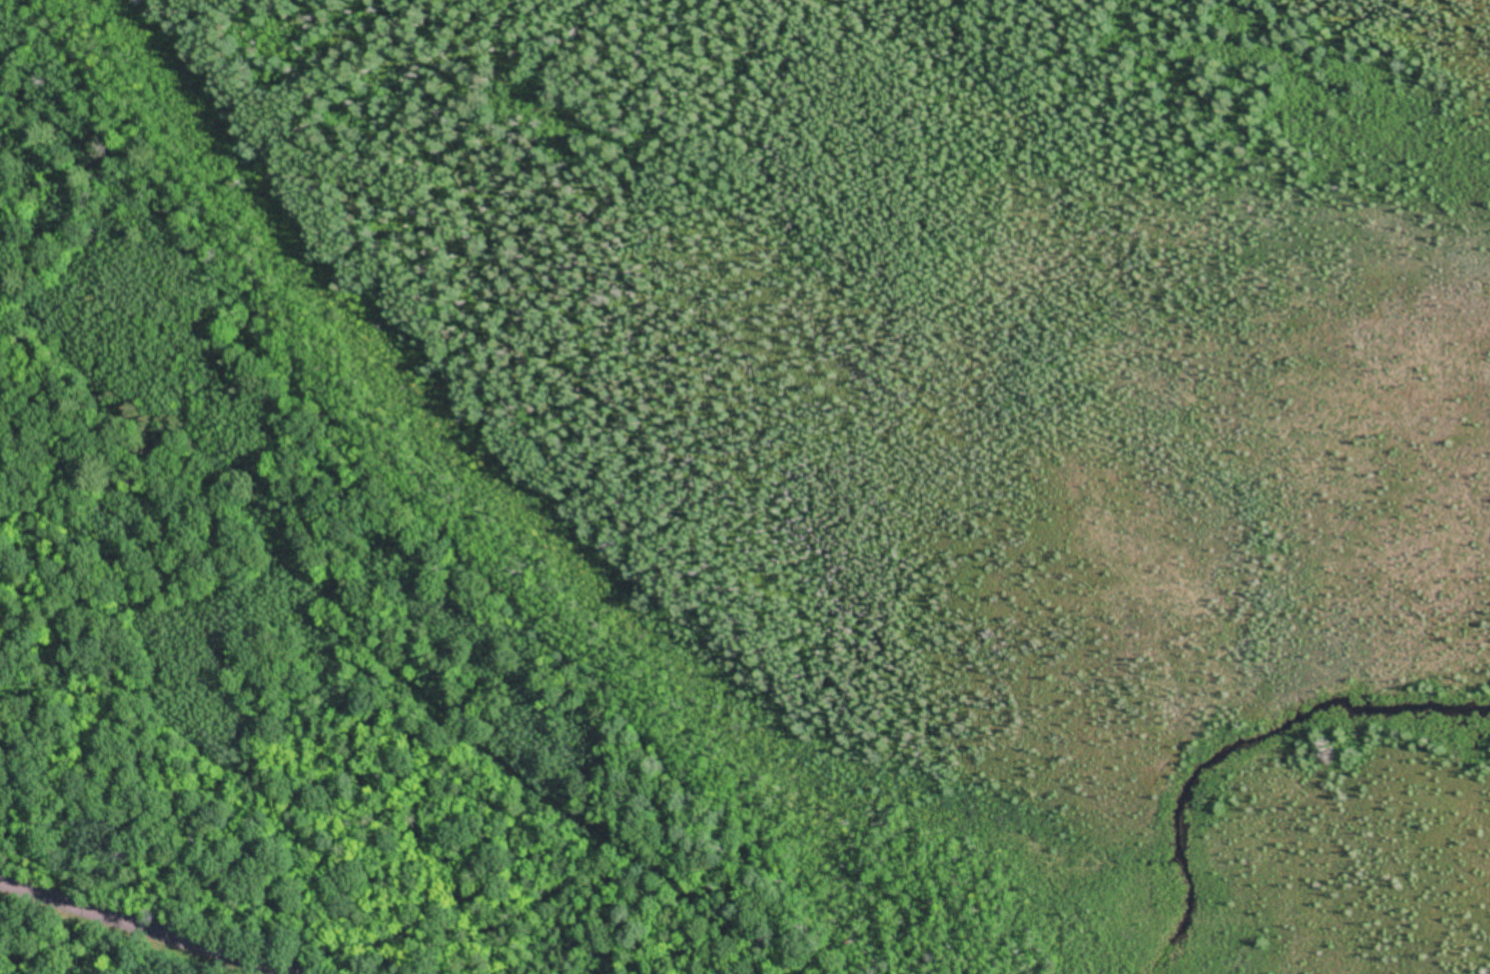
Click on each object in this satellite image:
road: (161, 920)

